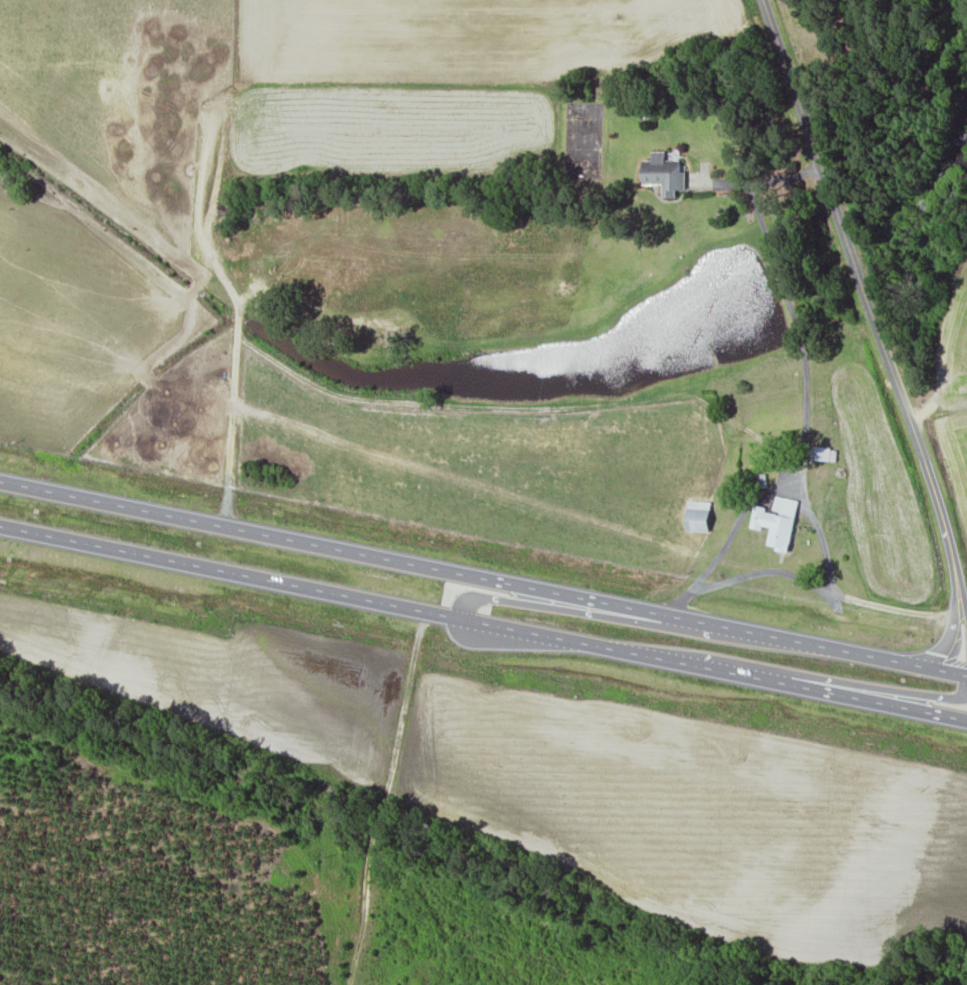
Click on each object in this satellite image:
building: (665, 174)
road: (755, 177)
road: (874, 319)
road: (807, 421)
building: (699, 517)
building: (778, 523)
road: (820, 536)
road: (483, 577)
road: (822, 590)
road: (483, 622)
road: (400, 700)
road: (963, 705)

